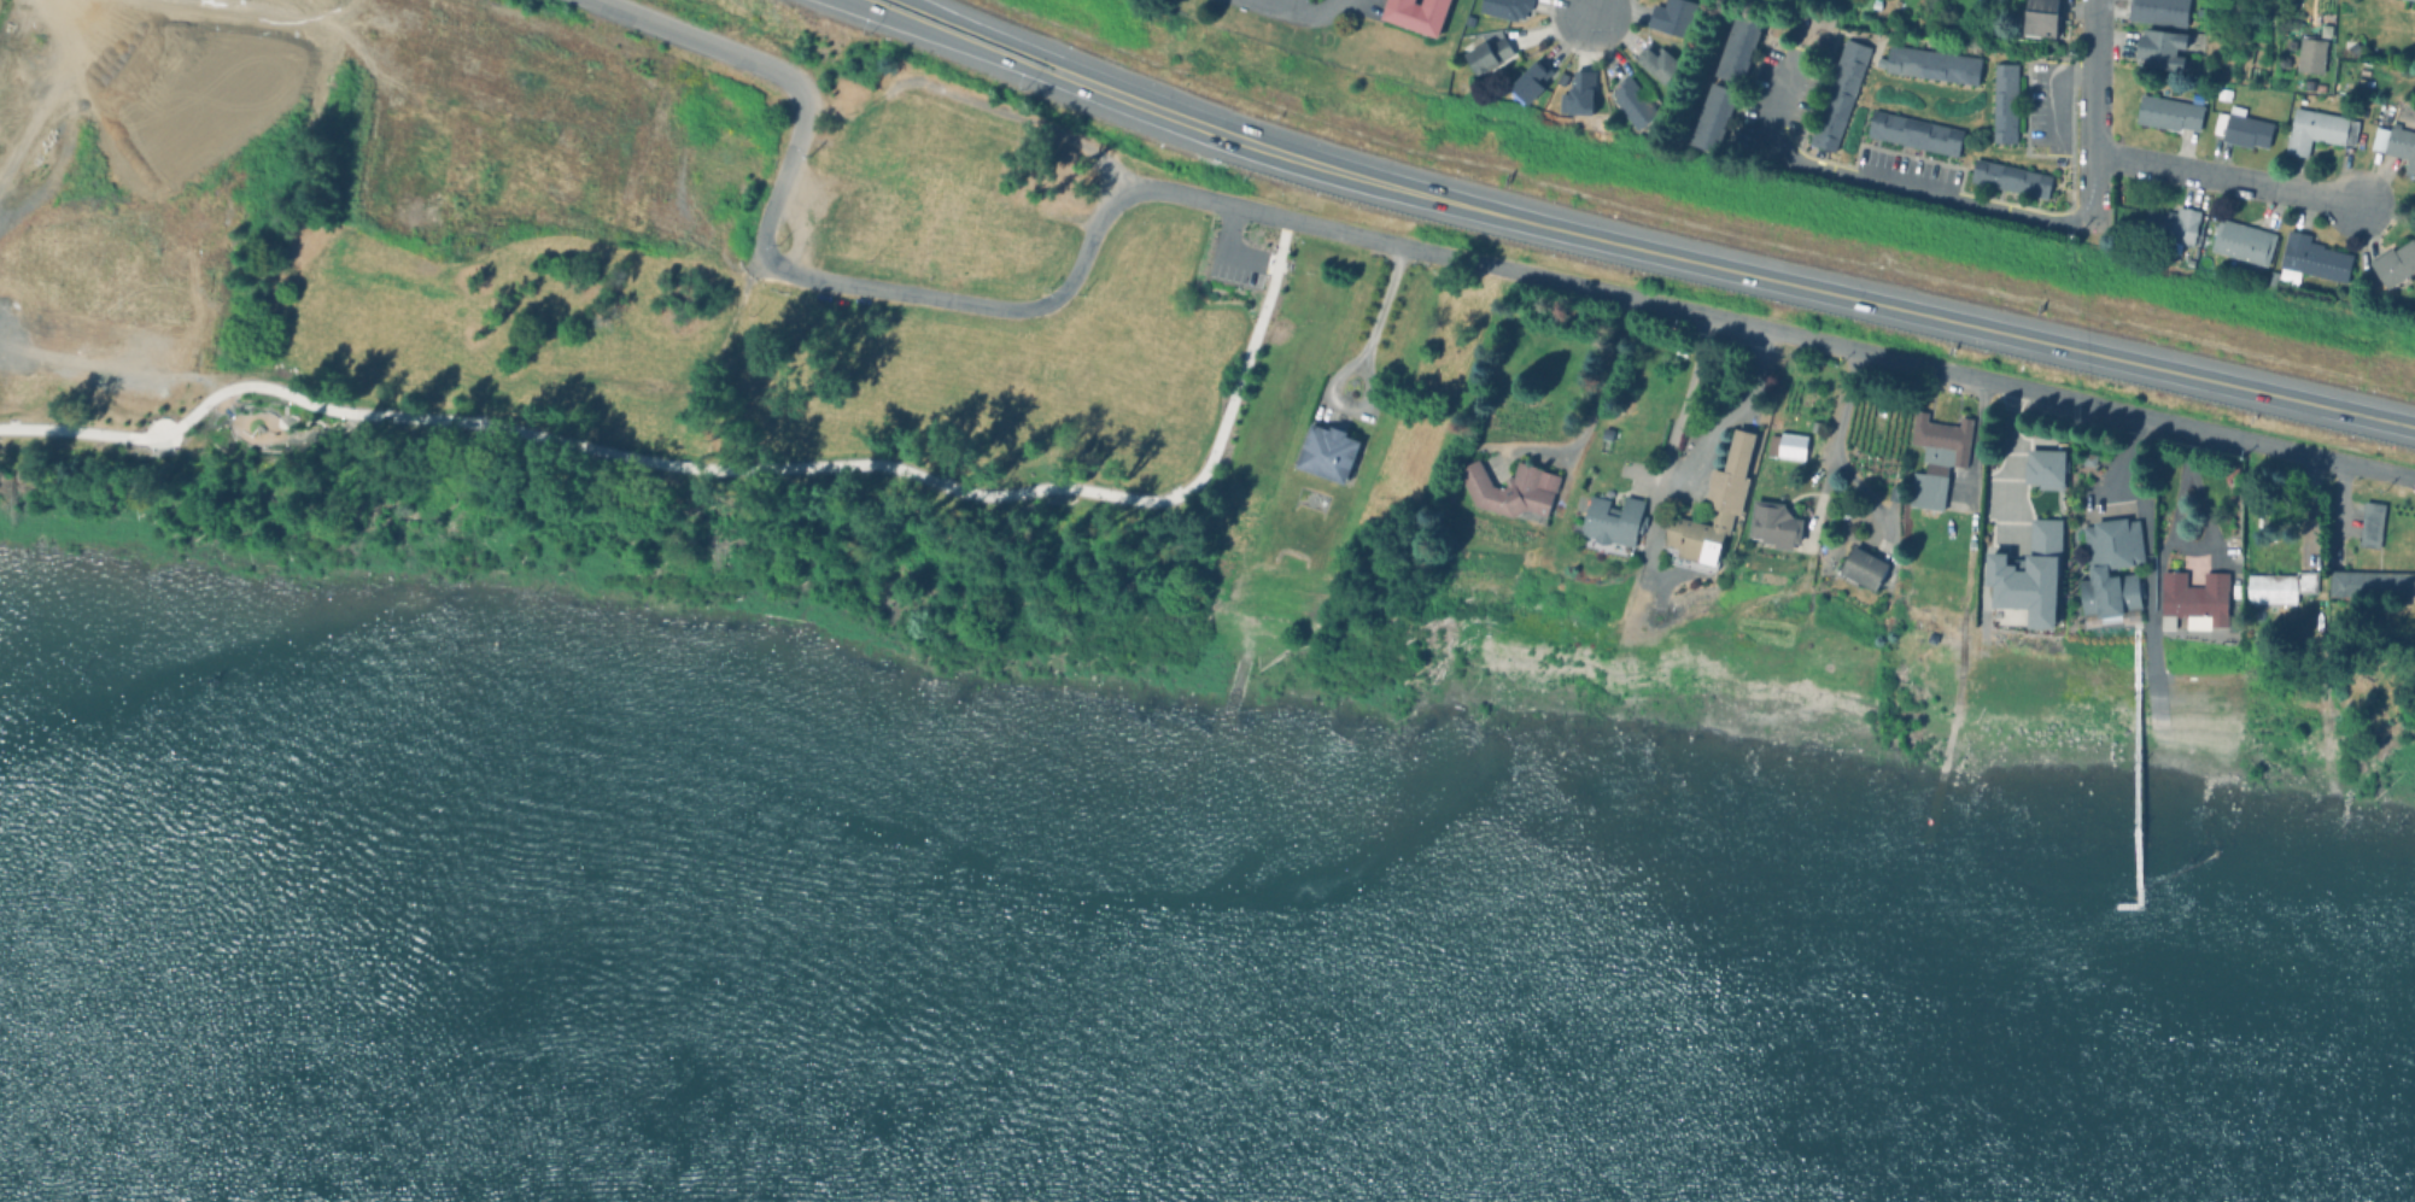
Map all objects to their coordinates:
building: (2410, 0)
road: (1592, 7)
road: (1305, 12)
road: (712, 40)
road: (1043, 49)
road: (1012, 59)
road: (2052, 89)
road: (1039, 122)
road: (1235, 134)
building: (2396, 145)
road: (784, 165)
road: (2223, 180)
road: (1984, 206)
road: (1088, 240)
building: (2396, 265)
road: (750, 271)
road: (907, 291)
road: (1859, 301)
road: (1380, 305)
park: (641, 307)
road: (1764, 328)
road: (1601, 389)
road: (1680, 399)
road: (1735, 406)
road: (1836, 432)
road: (719, 456)
road: (2006, 457)
road: (993, 544)
pier: (2128, 774)

